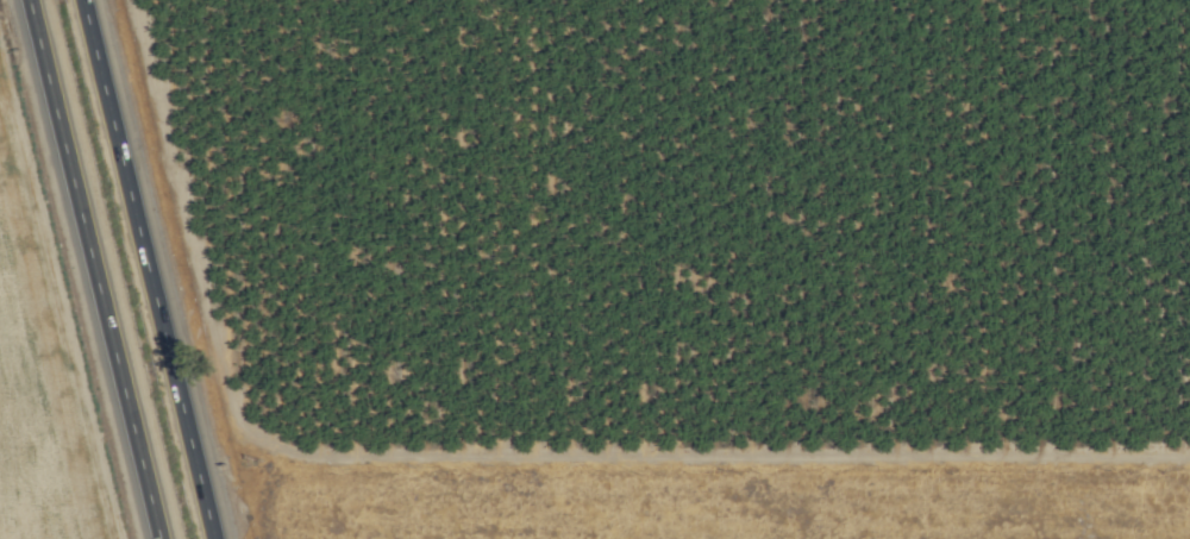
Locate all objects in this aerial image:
crop: (666, 263)
road: (93, 269)
road: (146, 269)

